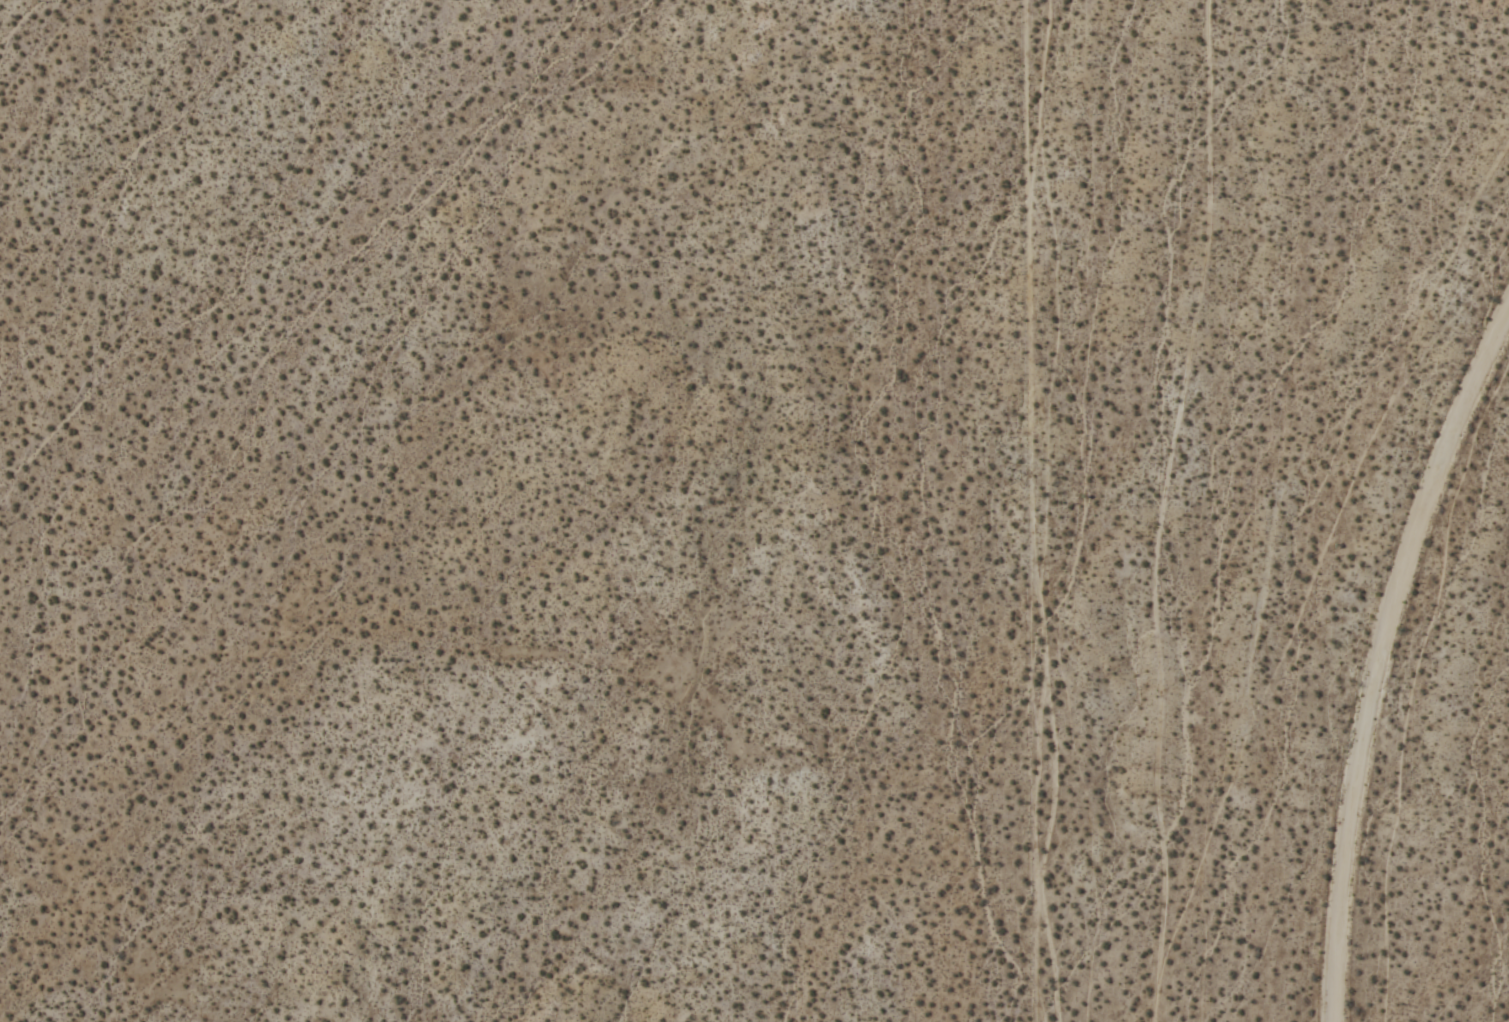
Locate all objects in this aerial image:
crop: (1302, 508)
road: (1381, 657)

